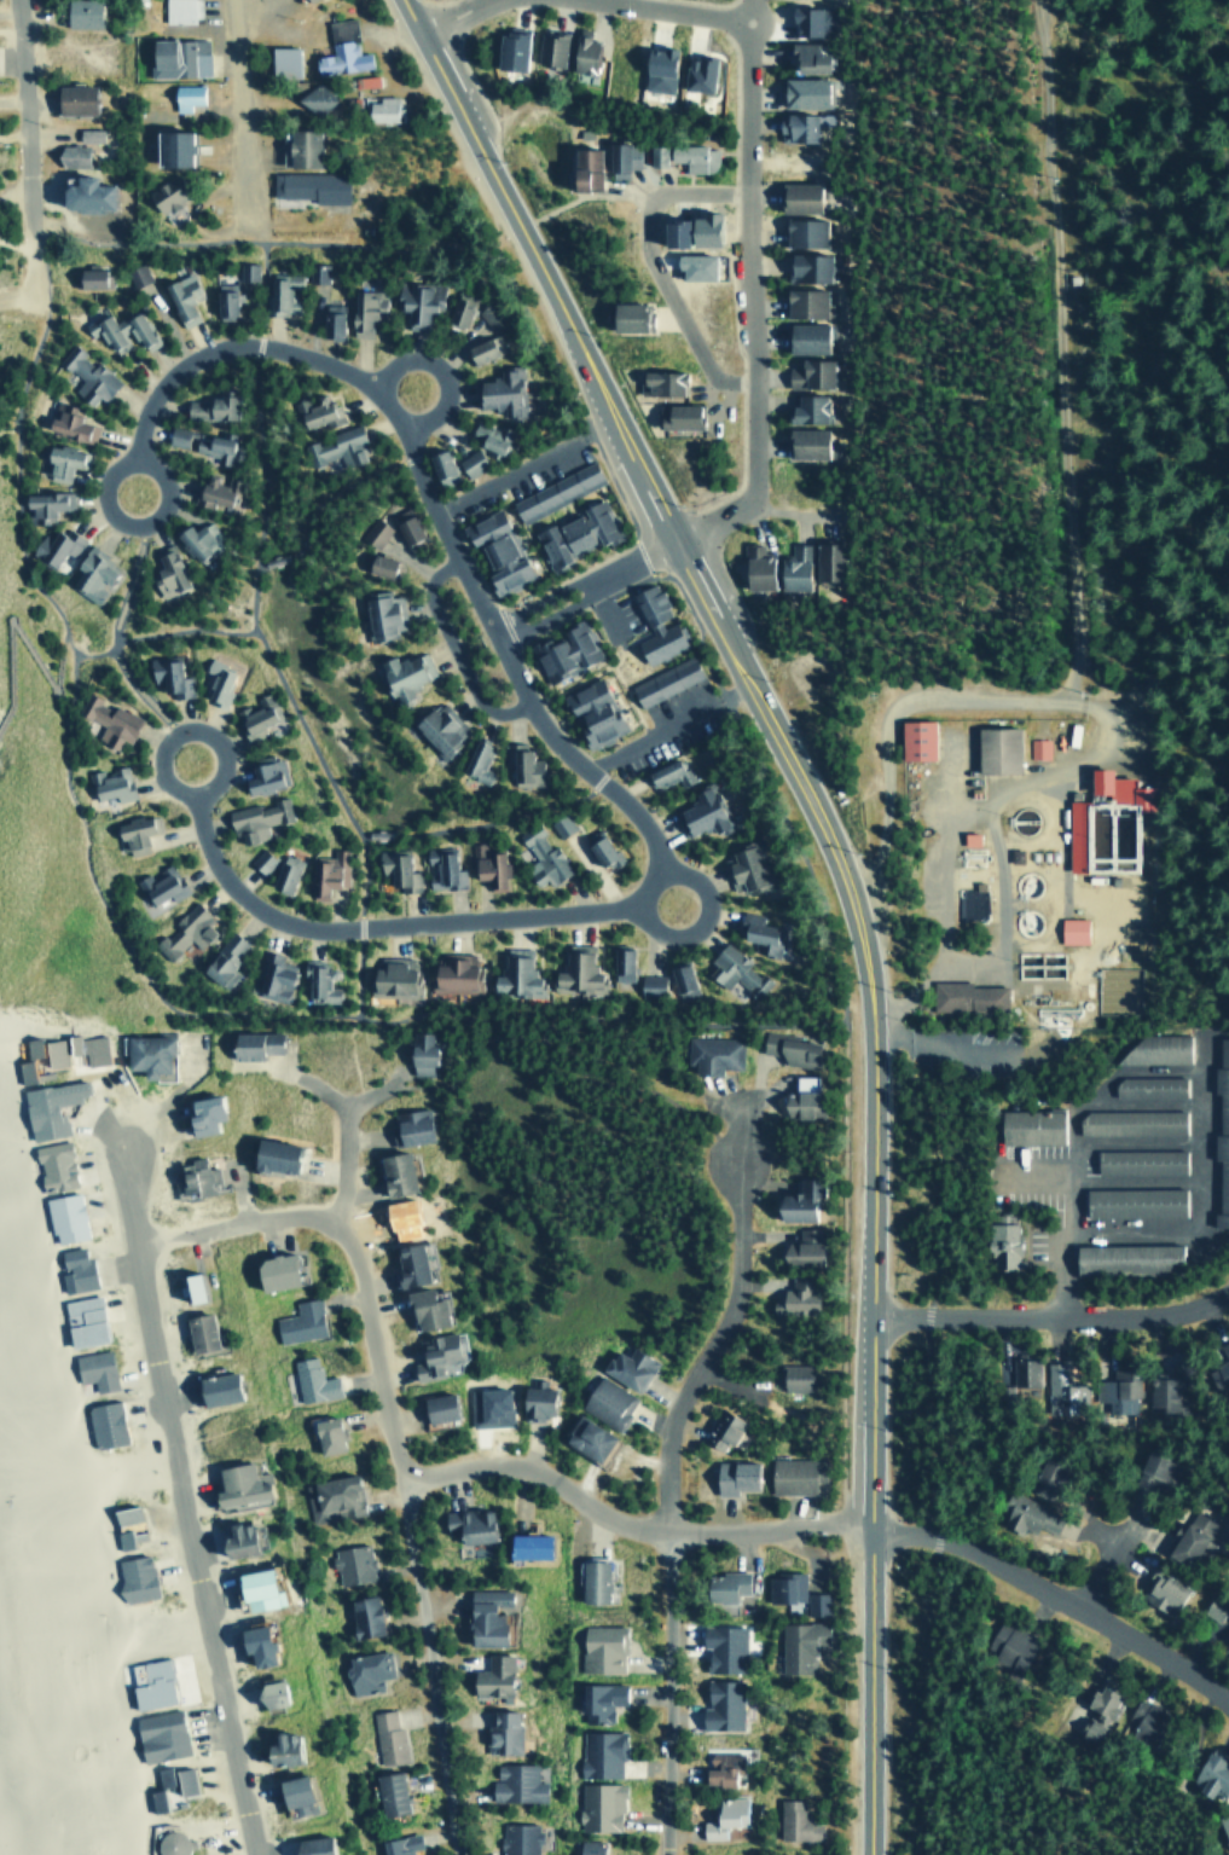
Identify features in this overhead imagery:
building: (300, 0)
road: (483, 0)
road: (649, 2)
road: (447, 8)
road: (676, 8)
road: (748, 8)
building: (178, 10)
building: (76, 12)
building: (807, 19)
road: (454, 24)
building: (338, 48)
building: (505, 48)
building: (568, 51)
building: (174, 56)
building: (802, 57)
building: (279, 59)
building: (654, 68)
building: (695, 73)
building: (363, 80)
building: (800, 91)
building: (184, 95)
building: (69, 98)
building: (311, 98)
building: (379, 108)
road: (242, 112)
road: (19, 127)
building: (793, 127)
building: (87, 133)
building: (296, 146)
building: (168, 147)
building: (653, 153)
building: (69, 155)
building: (691, 156)
building: (618, 157)
building: (580, 168)
building: (307, 185)
building: (80, 192)
building: (162, 196)
building: (794, 196)
building: (685, 230)
building: (800, 231)
road: (15, 243)
road: (653, 263)
building: (690, 265)
building: (805, 267)
building: (244, 271)
building: (314, 272)
building: (135, 274)
building: (85, 276)
building: (278, 290)
building: (179, 297)
building: (221, 300)
building: (415, 300)
road: (746, 300)
building: (800, 302)
building: (360, 309)
building: (454, 311)
building: (488, 315)
building: (621, 315)
building: (327, 319)
building: (121, 331)
building: (802, 336)
road: (437, 370)
road: (350, 372)
building: (85, 373)
building: (806, 373)
building: (656, 381)
building: (498, 390)
building: (208, 406)
building: (804, 408)
building: (314, 410)
building: (66, 422)
road: (6, 428)
building: (174, 435)
building: (486, 436)
building: (802, 442)
building: (210, 445)
building: (334, 446)
road: (123, 458)
building: (60, 459)
building: (468, 462)
building: (435, 463)
building: (552, 491)
building: (42, 504)
building: (404, 526)
building: (480, 527)
building: (372, 532)
building: (573, 533)
building: (195, 538)
building: (51, 545)
road: (16, 546)
road: (639, 557)
building: (823, 561)
building: (499, 563)
building: (376, 566)
building: (752, 566)
building: (789, 568)
building: (164, 572)
building: (87, 573)
road: (543, 596)
road: (253, 598)
road: (551, 611)
building: (381, 614)
building: (653, 625)
road: (59, 636)
road: (112, 636)
road: (451, 648)
building: (401, 673)
building: (166, 674)
building: (214, 680)
building: (662, 680)
building: (589, 712)
building: (254, 714)
building: (108, 720)
building: (437, 726)
building: (912, 740)
road: (162, 747)
building: (1037, 747)
building: (993, 749)
building: (475, 759)
building: (522, 765)
building: (666, 772)
building: (262, 773)
building: (109, 783)
building: (1120, 788)
building: (697, 812)
building: (254, 818)
building: (557, 824)
building: (131, 833)
building: (1074, 834)
road: (359, 845)
building: (599, 852)
building: (539, 856)
building: (259, 860)
building: (485, 864)
building: (743, 866)
building: (395, 869)
building: (441, 869)
wastewater plant: (1026, 870)
building: (282, 871)
building: (326, 871)
road: (840, 877)
building: (158, 883)
road: (547, 912)
road: (701, 921)
building: (1069, 929)
building: (182, 931)
building: (754, 931)
building: (221, 961)
building: (619, 961)
building: (575, 970)
building: (732, 970)
building: (452, 972)
building: (512, 973)
building: (390, 975)
building: (272, 976)
building: (315, 981)
building: (678, 981)
building: (647, 984)
building: (964, 996)
building: (251, 1042)
building: (28, 1045)
building: (785, 1047)
building: (70, 1048)
building: (1149, 1049)
building: (143, 1050)
building: (417, 1053)
building: (709, 1053)
building: (21, 1068)
building: (1146, 1085)
building: (798, 1097)
building: (47, 1106)
building: (197, 1111)
building: (1127, 1120)
building: (407, 1124)
building: (1027, 1126)
building: (1219, 1130)
building: (267, 1153)
building: (1136, 1160)
road: (343, 1163)
building: (51, 1165)
building: (390, 1171)
building: (192, 1176)
building: (794, 1199)
building: (1130, 1200)
building: (62, 1216)
building: (1147, 1223)
building: (798, 1246)
building: (1123, 1257)
building: (404, 1262)
building: (71, 1268)
building: (268, 1269)
building: (186, 1285)
building: (794, 1294)
building: (421, 1305)
road: (1053, 1315)
building: (80, 1318)
building: (297, 1320)
building: (195, 1329)
road: (711, 1349)
building: (431, 1355)
building: (1221, 1362)
building: (626, 1366)
building: (93, 1368)
building: (1021, 1369)
building: (792, 1375)
building: (309, 1379)
building: (211, 1386)
building: (1115, 1390)
building: (1159, 1391)
building: (531, 1399)
building: (604, 1401)
building: (489, 1404)
building: (433, 1405)
building: (102, 1422)
building: (719, 1428)
road: (393, 1432)
building: (582, 1437)
building: (1152, 1471)
building: (729, 1474)
building: (1042, 1474)
building: (233, 1483)
road: (179, 1485)
building: (330, 1496)
building: (122, 1512)
building: (1025, 1513)
building: (466, 1523)
road: (624, 1524)
building: (120, 1537)
building: (1189, 1537)
building: (231, 1538)
building: (523, 1544)
building: (349, 1563)
road: (1105, 1567)
building: (132, 1577)
building: (589, 1578)
building: (721, 1584)
building: (782, 1586)
building: (251, 1588)
building: (1159, 1589)
road: (1054, 1593)
building: (813, 1601)
building: (361, 1615)
building: (482, 1615)
building: (249, 1642)
building: (796, 1644)
building: (1225, 1644)
building: (720, 1646)
building: (1008, 1646)
building: (598, 1647)
building: (361, 1670)
building: (488, 1675)
building: (146, 1681)
road: (672, 1693)
building: (597, 1699)
building: (718, 1704)
building: (1094, 1710)
building: (1142, 1721)
building: (500, 1729)
building: (157, 1734)
building: (384, 1735)
building: (276, 1746)
building: (599, 1752)
building: (718, 1766)
building: (1210, 1773)
building: (161, 1775)
building: (180, 1779)
building: (514, 1781)
building: (387, 1791)
building: (289, 1792)
building: (152, 1798)
building: (597, 1804)
building: (723, 1815)
building: (793, 1820)
building: (1223, 1826)
building: (516, 1838)
building: (167, 1842)
building: (307, 1844)
building: (398, 1844)
building: (586, 1847)

